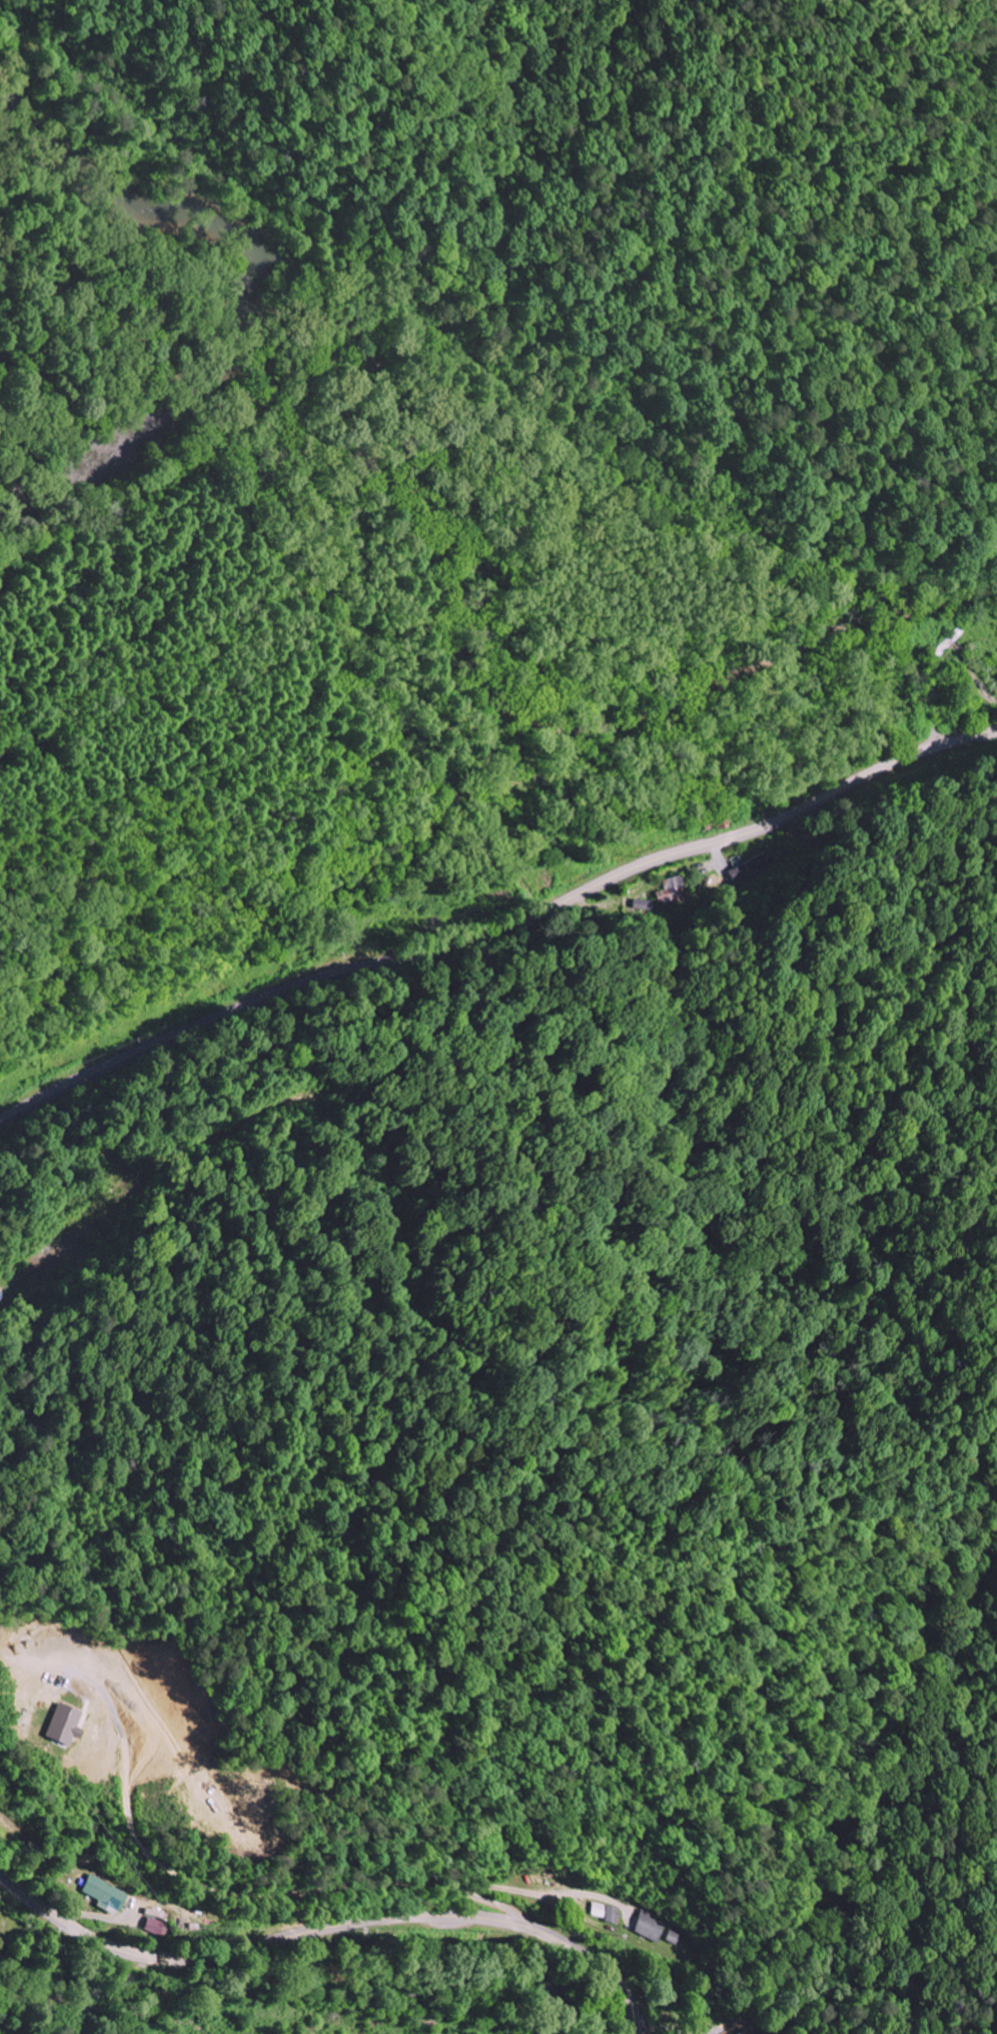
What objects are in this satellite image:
river: (259, 299)
building: (752, 866)
building: (672, 893)
road: (499, 931)
building: (67, 1725)
road: (299, 1888)
building: (109, 1895)
building: (618, 1914)
building: (156, 1927)
building: (654, 1927)
road: (333, 1928)
building: (751, 2031)

